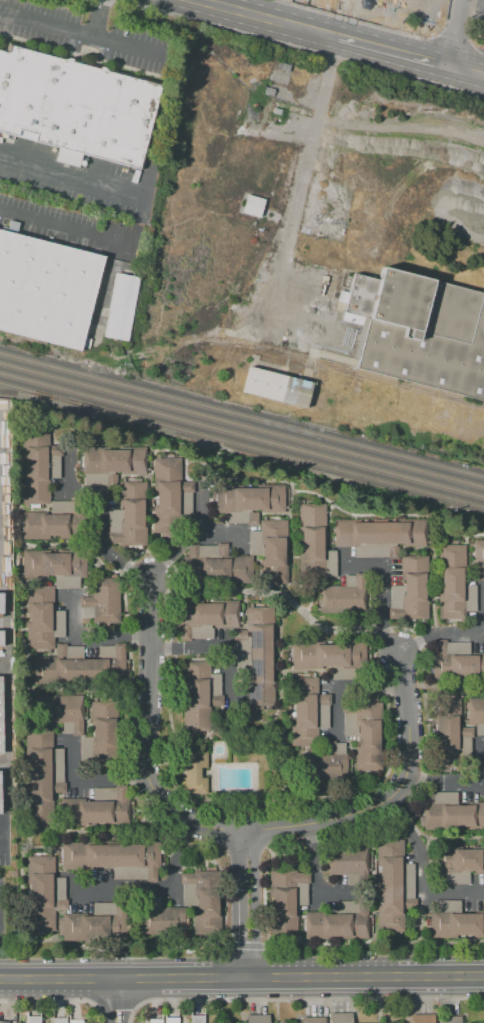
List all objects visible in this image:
building: (410, 1)
road: (347, 5)
road: (275, 10)
road: (241, 11)
road: (304, 13)
road: (439, 14)
road: (368, 17)
road: (100, 20)
road: (475, 21)
road: (308, 28)
road: (435, 30)
road: (455, 32)
road: (445, 34)
road: (83, 36)
road: (390, 49)
road: (458, 68)
road: (476, 72)
building: (75, 108)
road: (303, 176)
road: (72, 178)
building: (251, 205)
road: (58, 229)
building: (45, 289)
building: (120, 308)
building: (425, 334)
building: (272, 385)
railway: (32, 395)
railway: (241, 415)
railway: (242, 425)
railway: (242, 436)
road: (82, 437)
road: (68, 442)
railway: (242, 445)
building: (113, 460)
building: (38, 466)
road: (200, 482)
building: (169, 494)
building: (250, 498)
road: (45, 506)
road: (199, 509)
road: (97, 512)
road: (150, 513)
building: (128, 516)
building: (252, 518)
building: (53, 522)
building: (379, 535)
road: (327, 536)
road: (186, 540)
building: (254, 542)
road: (59, 544)
building: (313, 544)
building: (273, 552)
road: (403, 552)
building: (478, 559)
building: (53, 564)
building: (215, 565)
road: (468, 565)
road: (47, 581)
road: (318, 583)
building: (453, 583)
road: (431, 586)
road: (483, 586)
road: (217, 590)
building: (411, 590)
road: (377, 594)
building: (345, 595)
building: (100, 602)
building: (1, 606)
road: (296, 606)
building: (42, 618)
building: (204, 618)
road: (244, 621)
road: (483, 633)
road: (460, 634)
road: (89, 637)
building: (0, 640)
road: (211, 647)
road: (53, 650)
building: (327, 655)
building: (254, 659)
road: (281, 661)
building: (456, 661)
building: (80, 665)
road: (311, 672)
road: (345, 686)
road: (444, 686)
road: (116, 691)
building: (199, 695)
building: (61, 710)
building: (307, 711)
building: (476, 711)
building: (0, 716)
road: (461, 718)
road: (47, 725)
building: (479, 729)
building: (364, 732)
building: (446, 734)
building: (99, 735)
road: (143, 739)
road: (197, 739)
road: (481, 742)
road: (313, 745)
road: (288, 748)
building: (326, 763)
building: (43, 767)
road: (351, 770)
building: (193, 773)
road: (90, 778)
road: (461, 782)
road: (211, 784)
road: (481, 789)
road: (390, 797)
building: (450, 812)
road: (24, 816)
road: (40, 829)
road: (127, 831)
road: (448, 837)
building: (109, 857)
road: (54, 858)
building: (346, 860)
building: (453, 862)
road: (371, 872)
road: (420, 873)
road: (312, 875)
building: (394, 881)
road: (158, 889)
building: (202, 892)
building: (43, 893)
road: (359, 894)
building: (286, 899)
road: (247, 904)
road: (58, 911)
road: (189, 913)
road: (299, 913)
road: (415, 916)
building: (160, 917)
building: (453, 921)
building: (338, 922)
building: (96, 923)
road: (240, 944)
road: (242, 977)
road: (299, 998)
road: (114, 1000)
road: (57, 1001)
road: (116, 1002)
building: (199, 1018)
building: (340, 1018)
building: (257, 1019)
building: (420, 1019)
building: (33, 1020)
building: (59, 1020)
building: (155, 1020)
building: (171, 1020)
building: (313, 1020)
building: (449, 1020)
building: (3, 1021)
building: (75, 1021)

